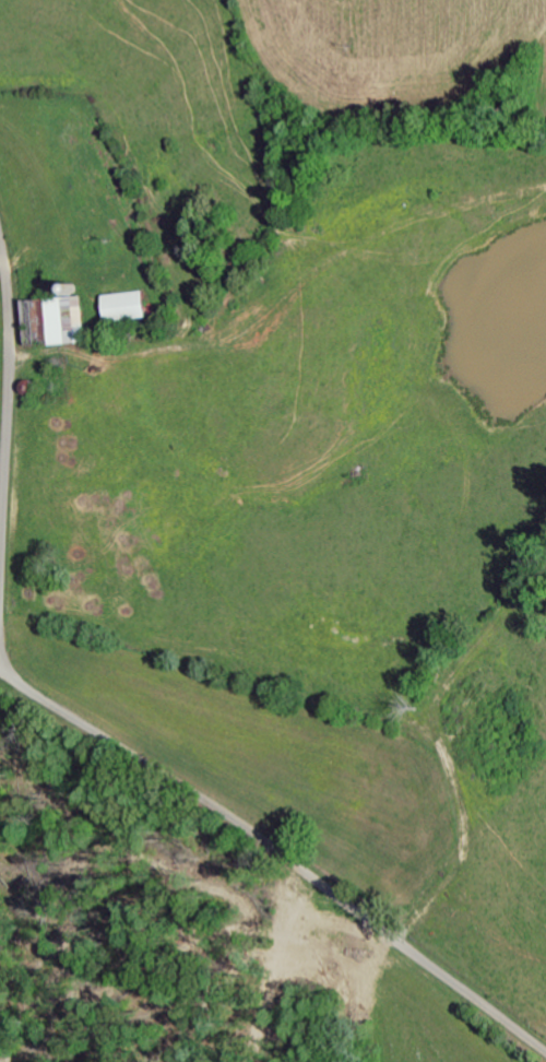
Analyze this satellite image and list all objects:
building: (131, 305)
building: (68, 319)
road: (3, 661)
road: (106, 743)

